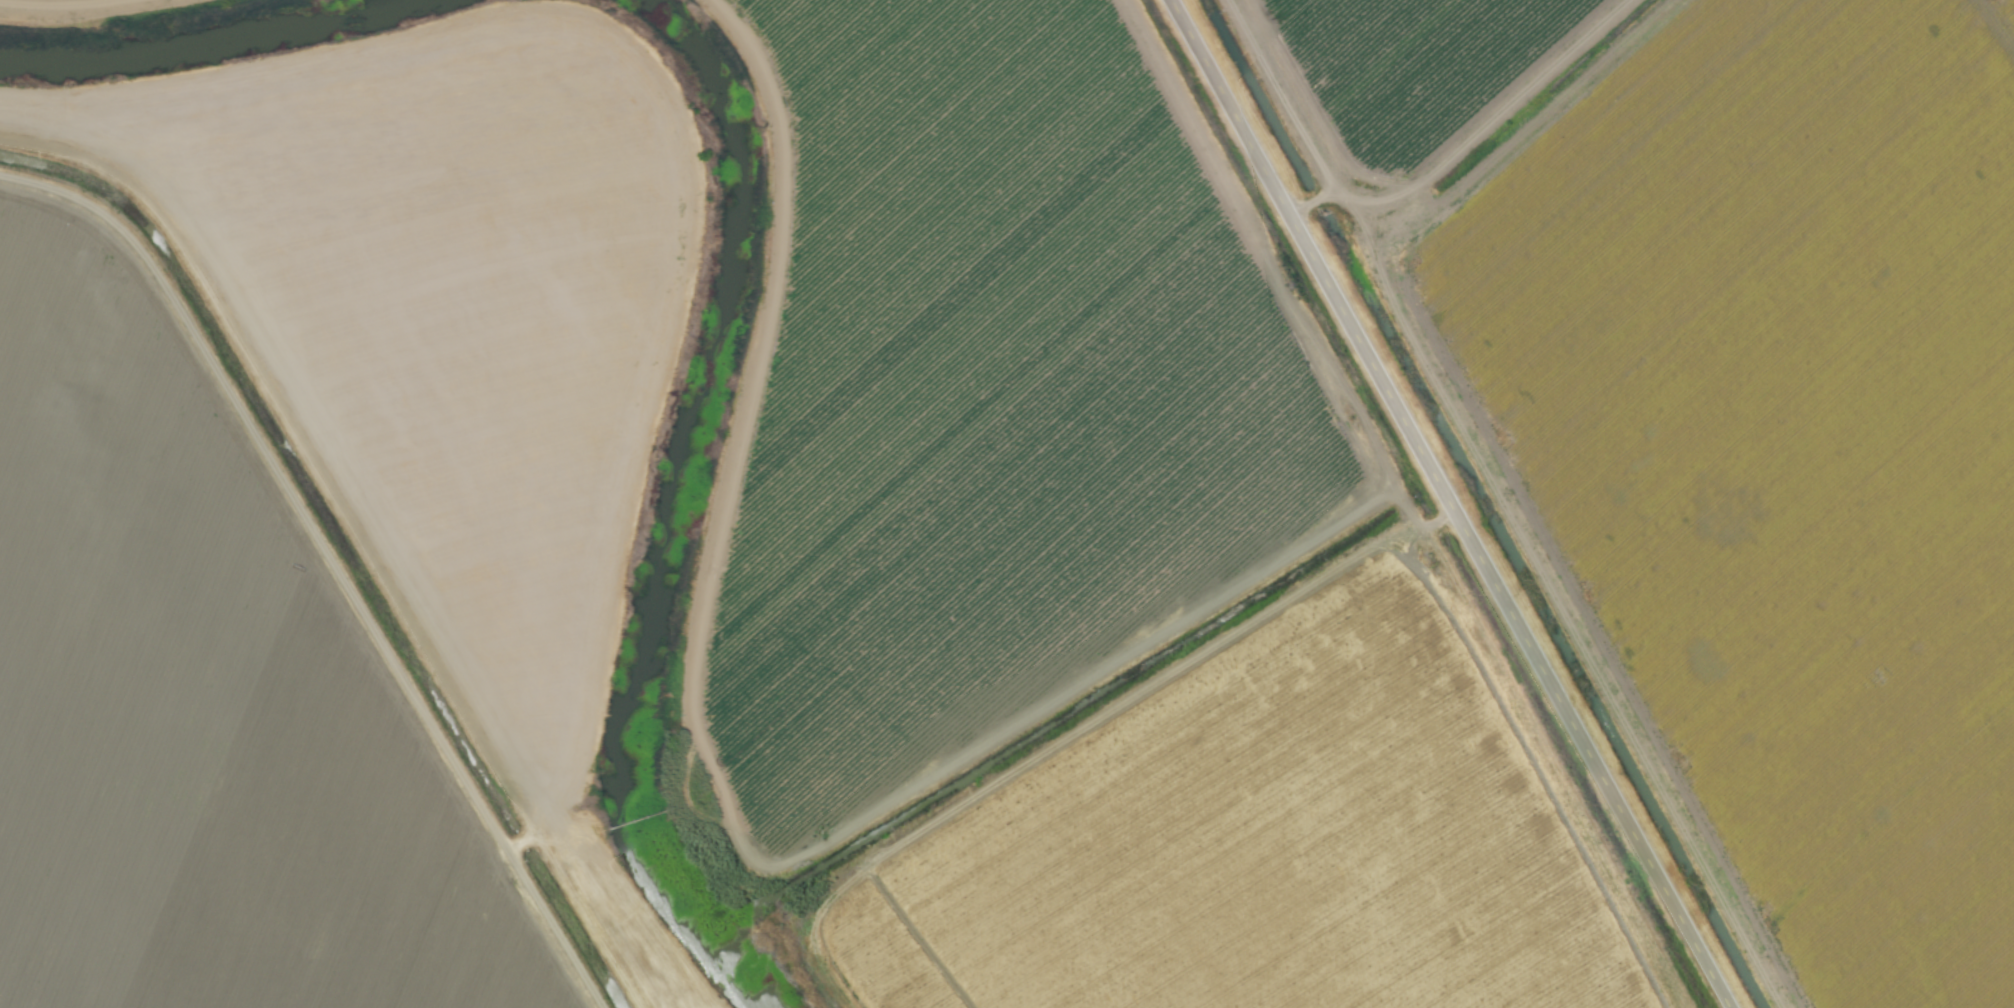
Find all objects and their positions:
crop: (173, 31)
road: (1455, 504)
crop: (1105, 541)

